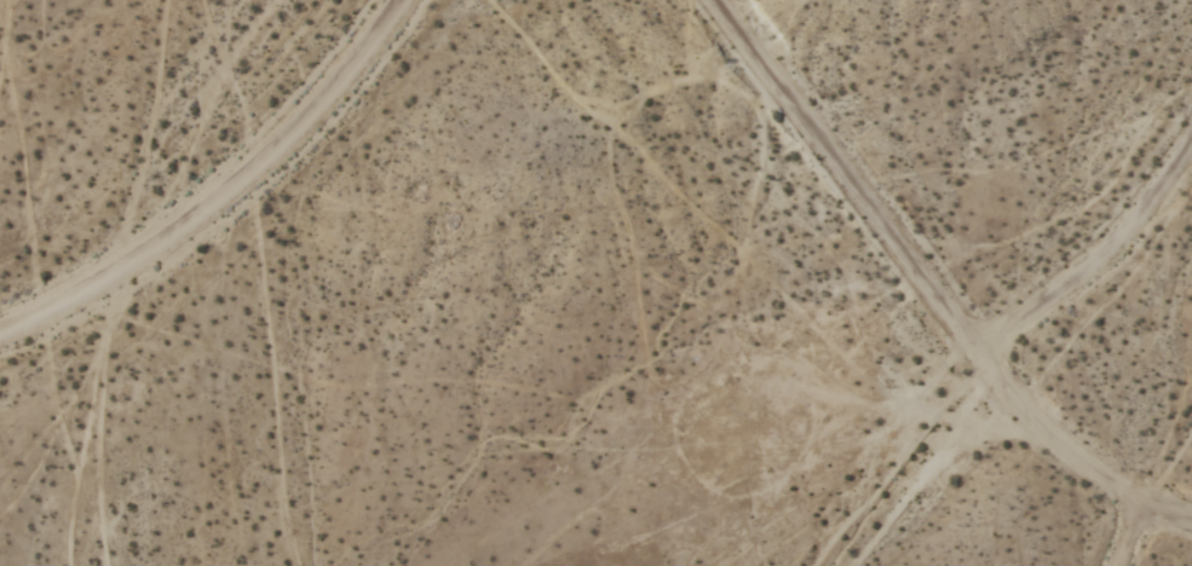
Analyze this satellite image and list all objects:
road: (226, 195)
road: (1098, 261)
road: (932, 288)
road: (1130, 537)

